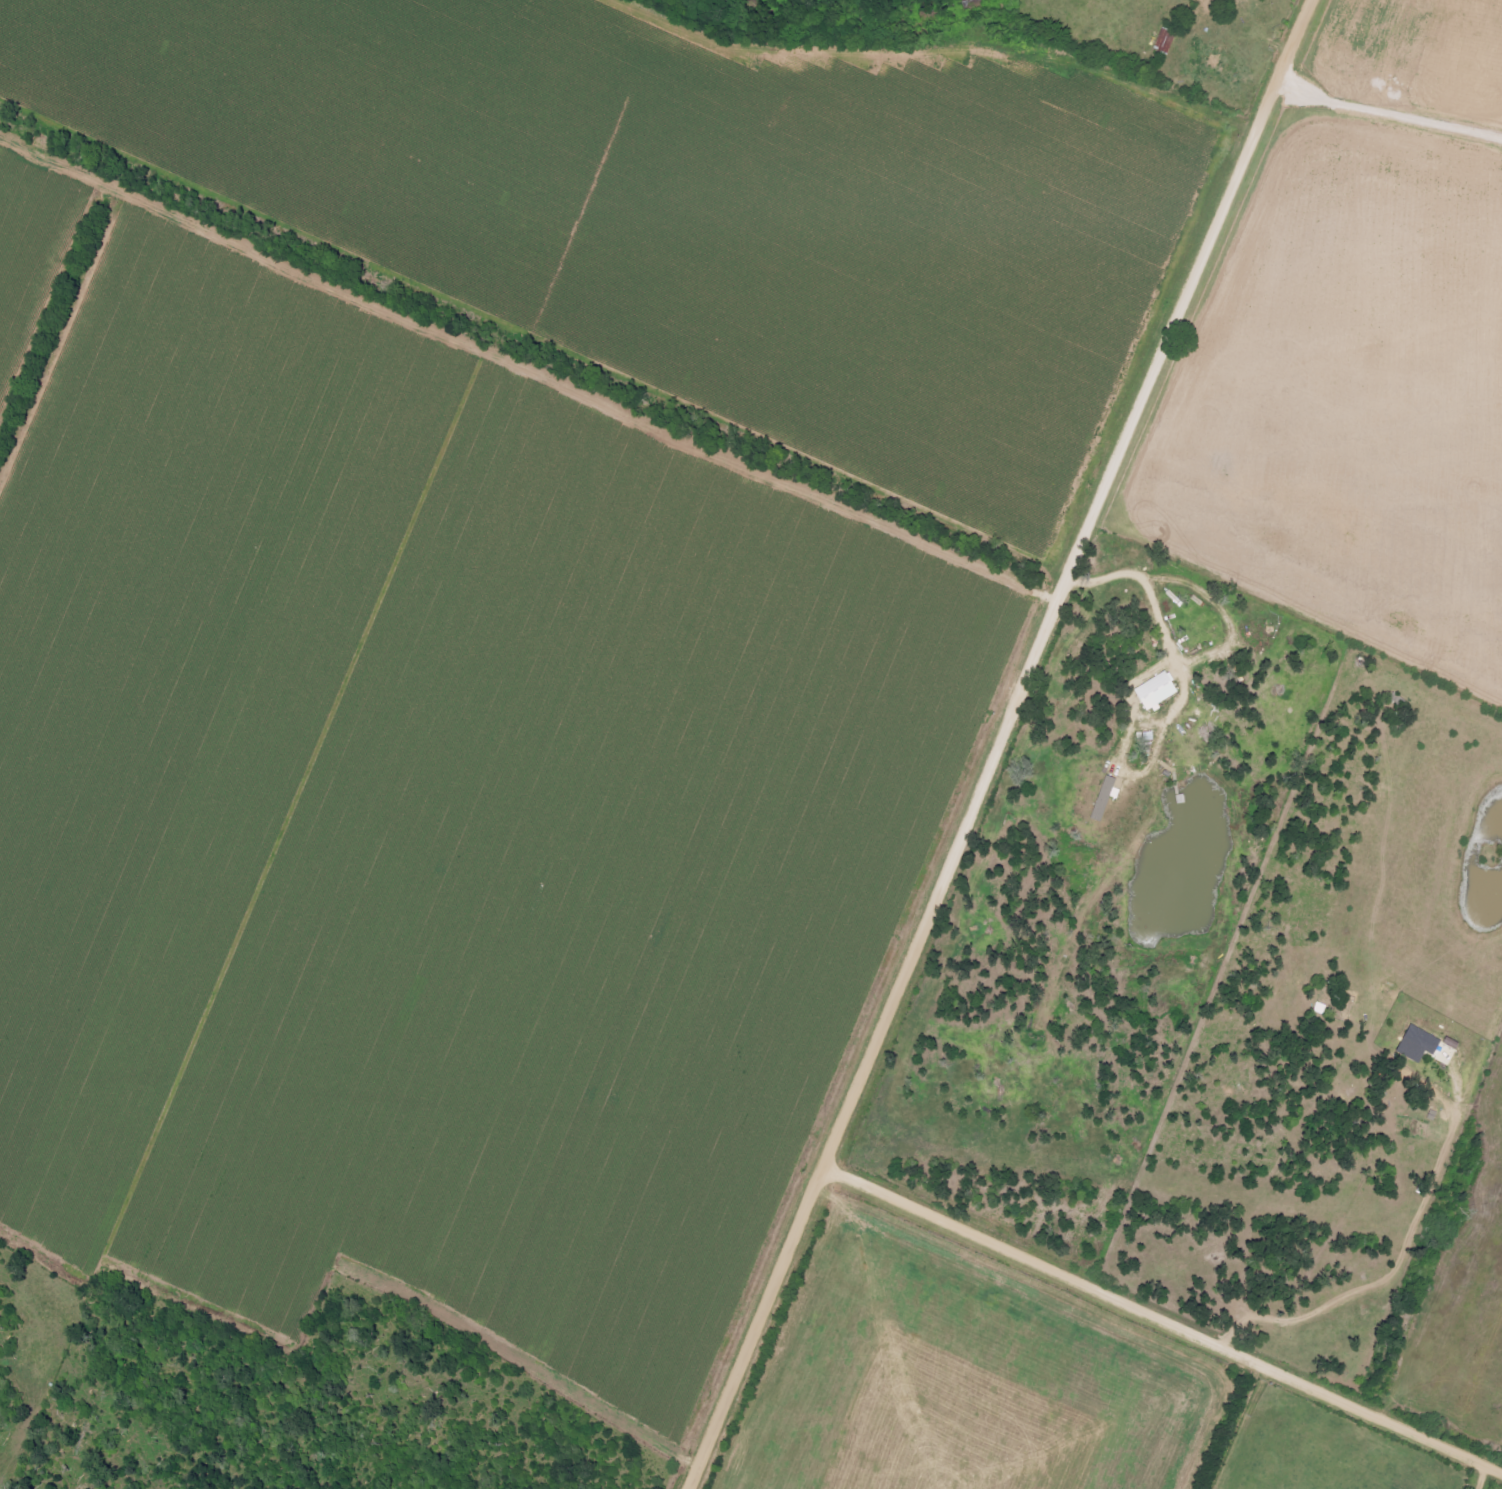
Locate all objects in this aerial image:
building: (1168, 40)
road: (1387, 113)
building: (1160, 690)
road: (997, 742)
building: (1106, 798)
building: (1422, 1044)
road: (1400, 1256)
road: (1164, 1319)
road: (1481, 1476)

